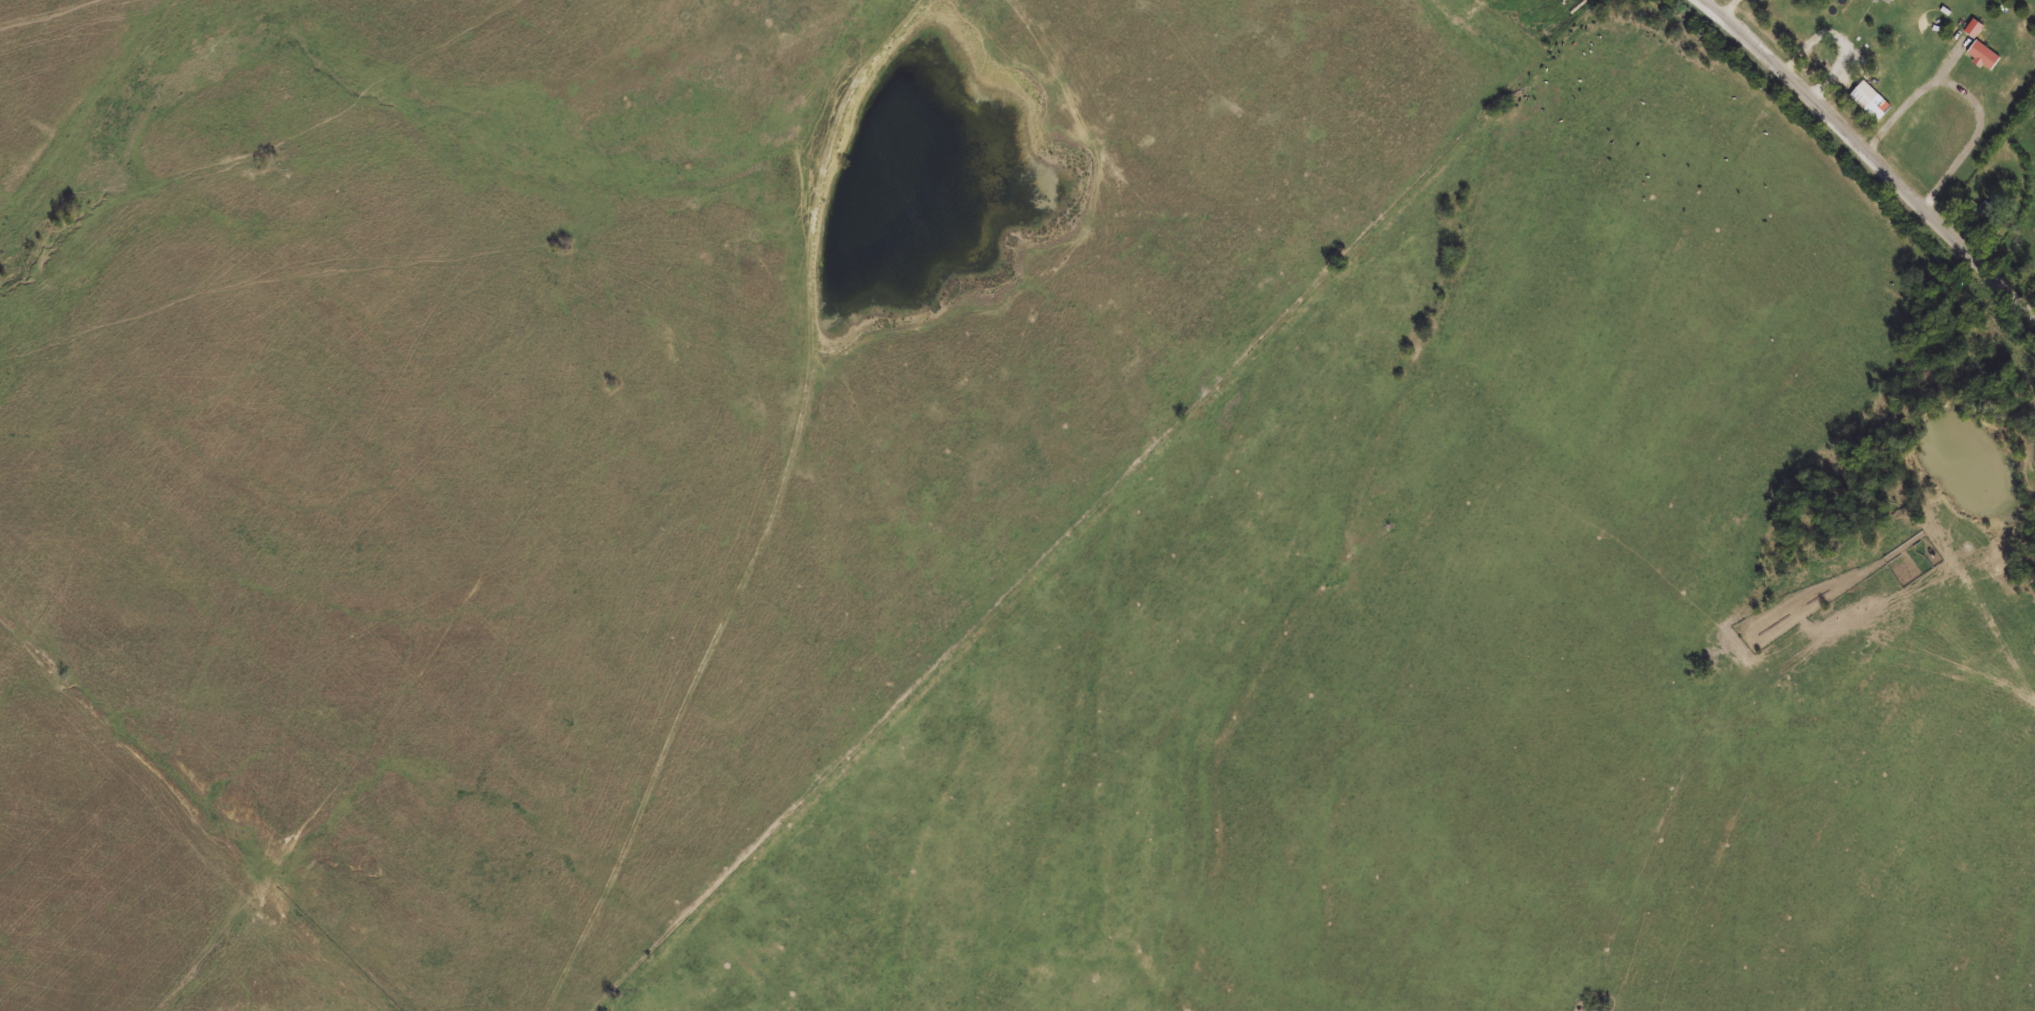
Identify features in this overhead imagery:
building: (1889, 1)
road: (1707, 3)
road: (1732, 10)
road: (1974, 93)
building: (1872, 101)
road: (1870, 155)
building: (1988, 212)

